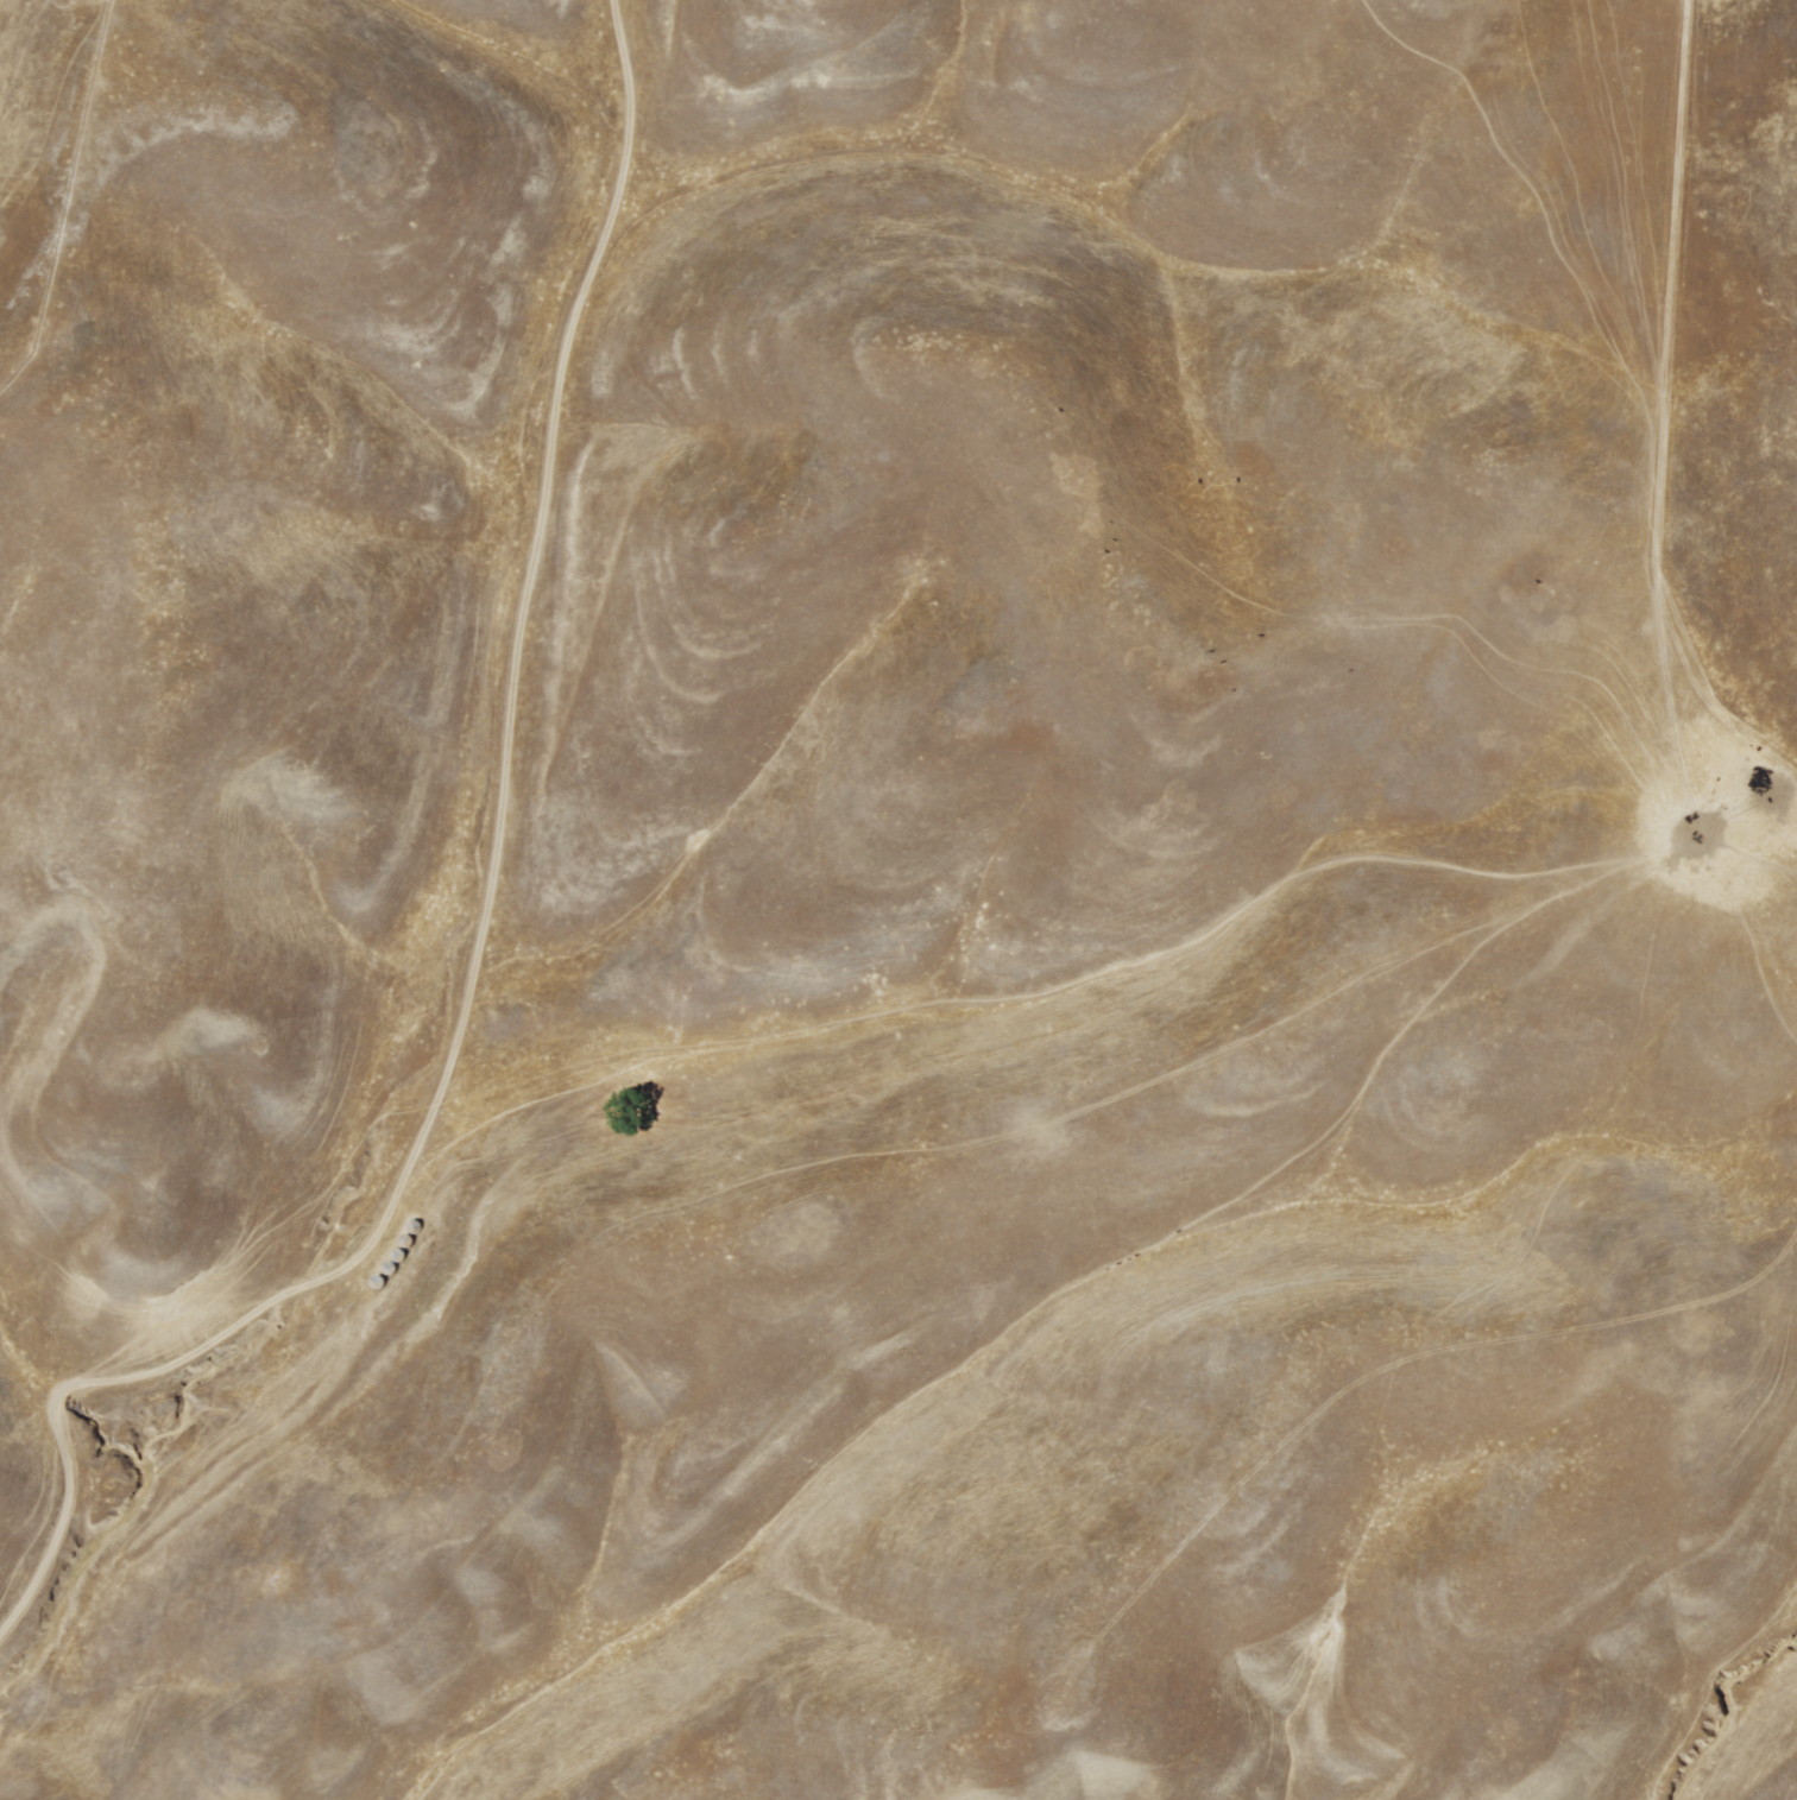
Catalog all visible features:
road: (1659, 409)
road: (478, 916)

